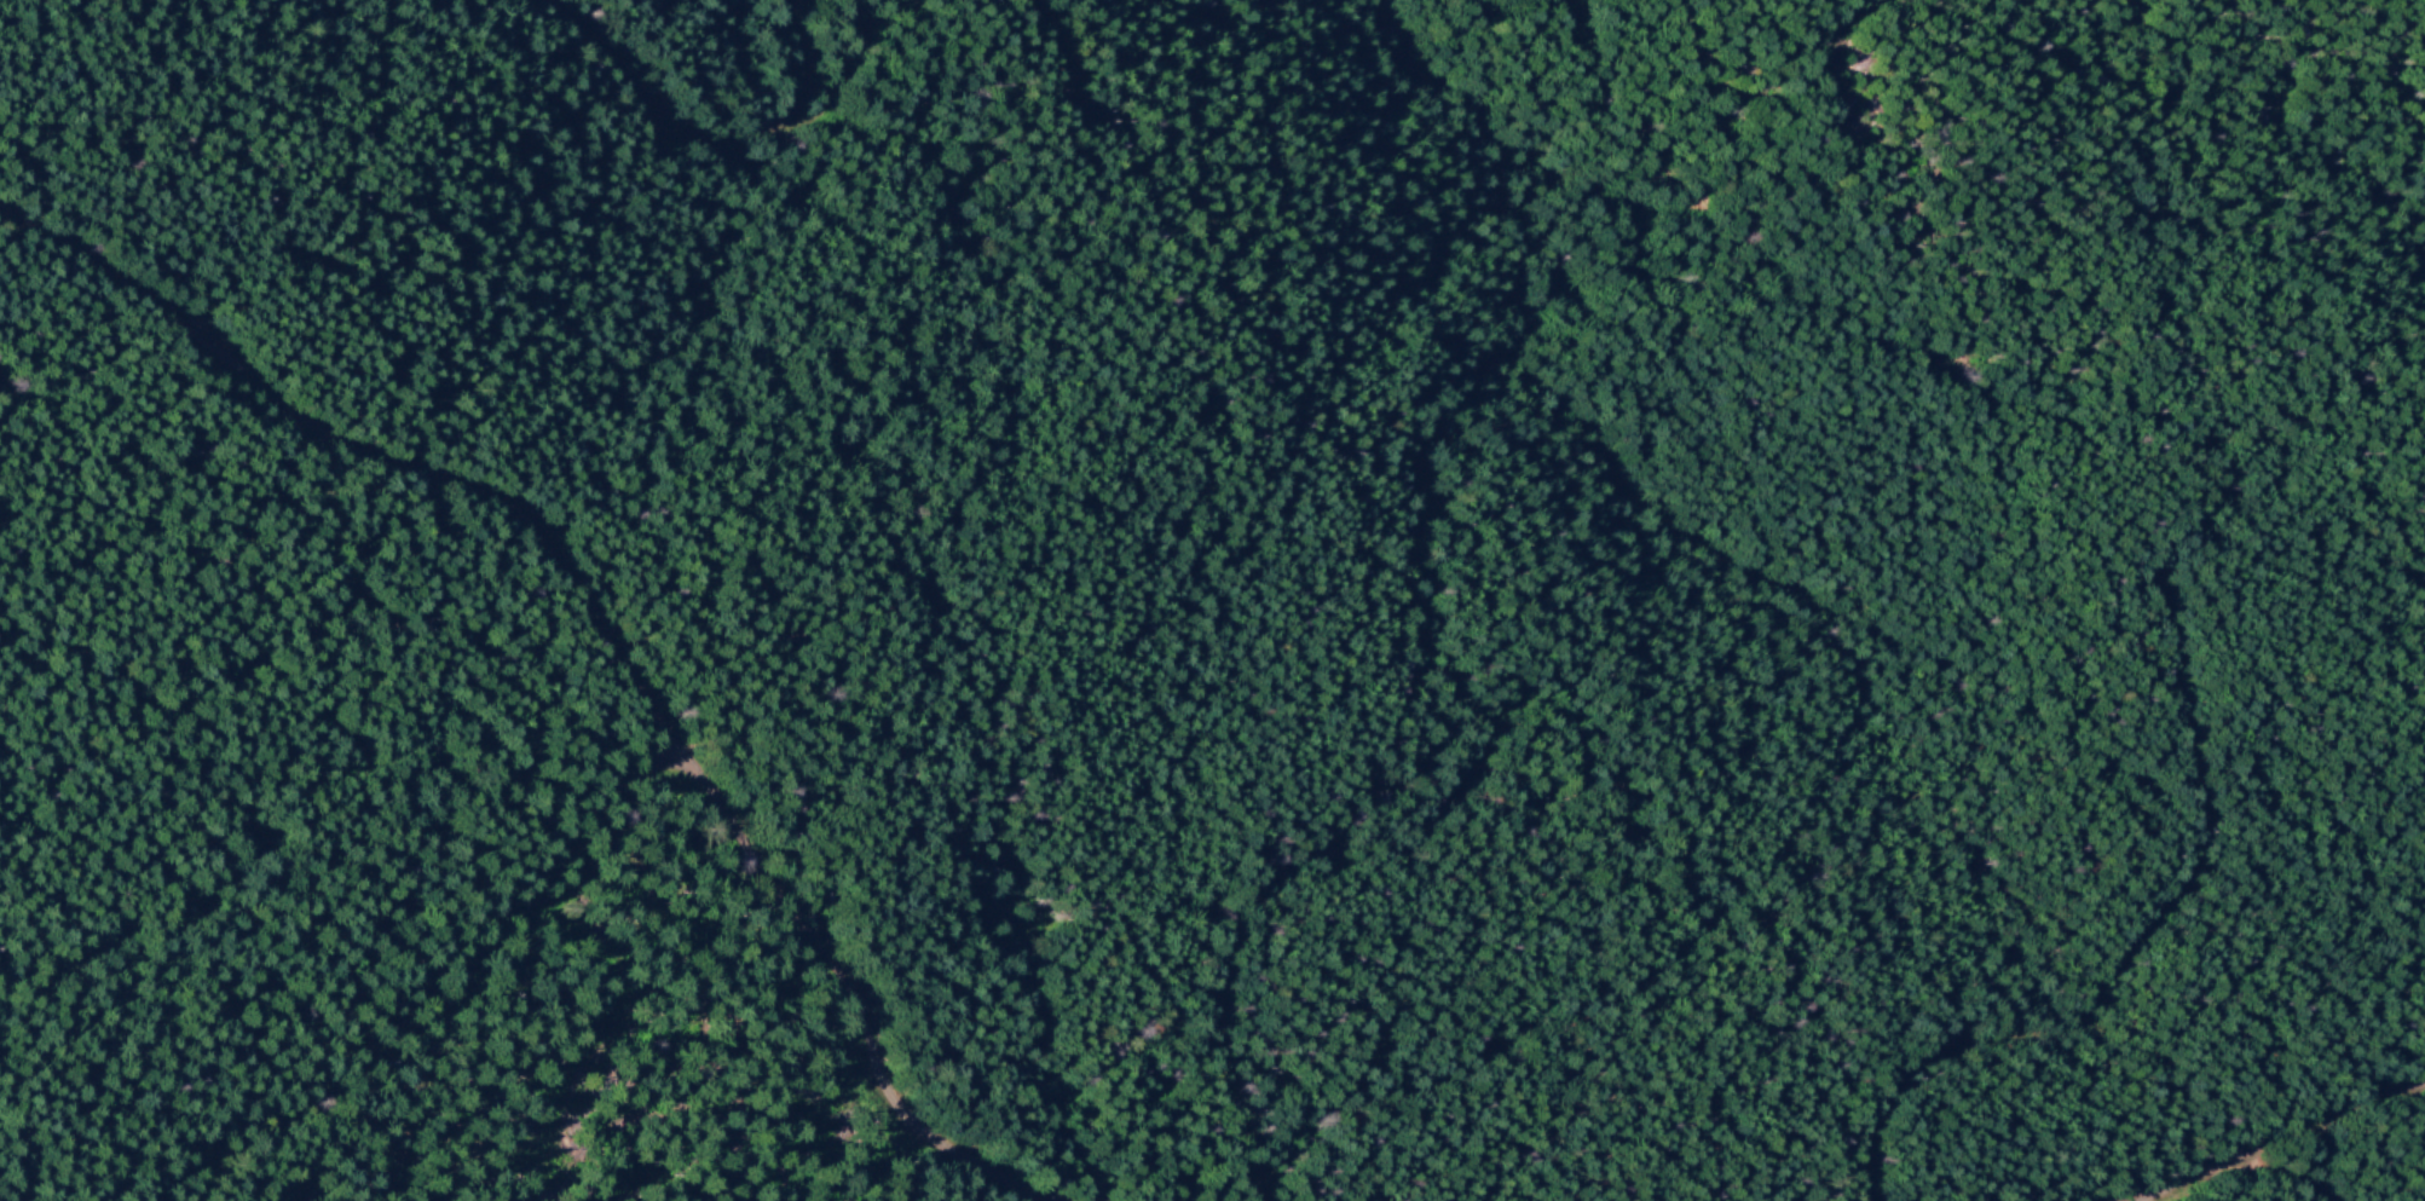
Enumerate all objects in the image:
road: (1915, 15)
road: (530, 636)
road: (441, 1014)

